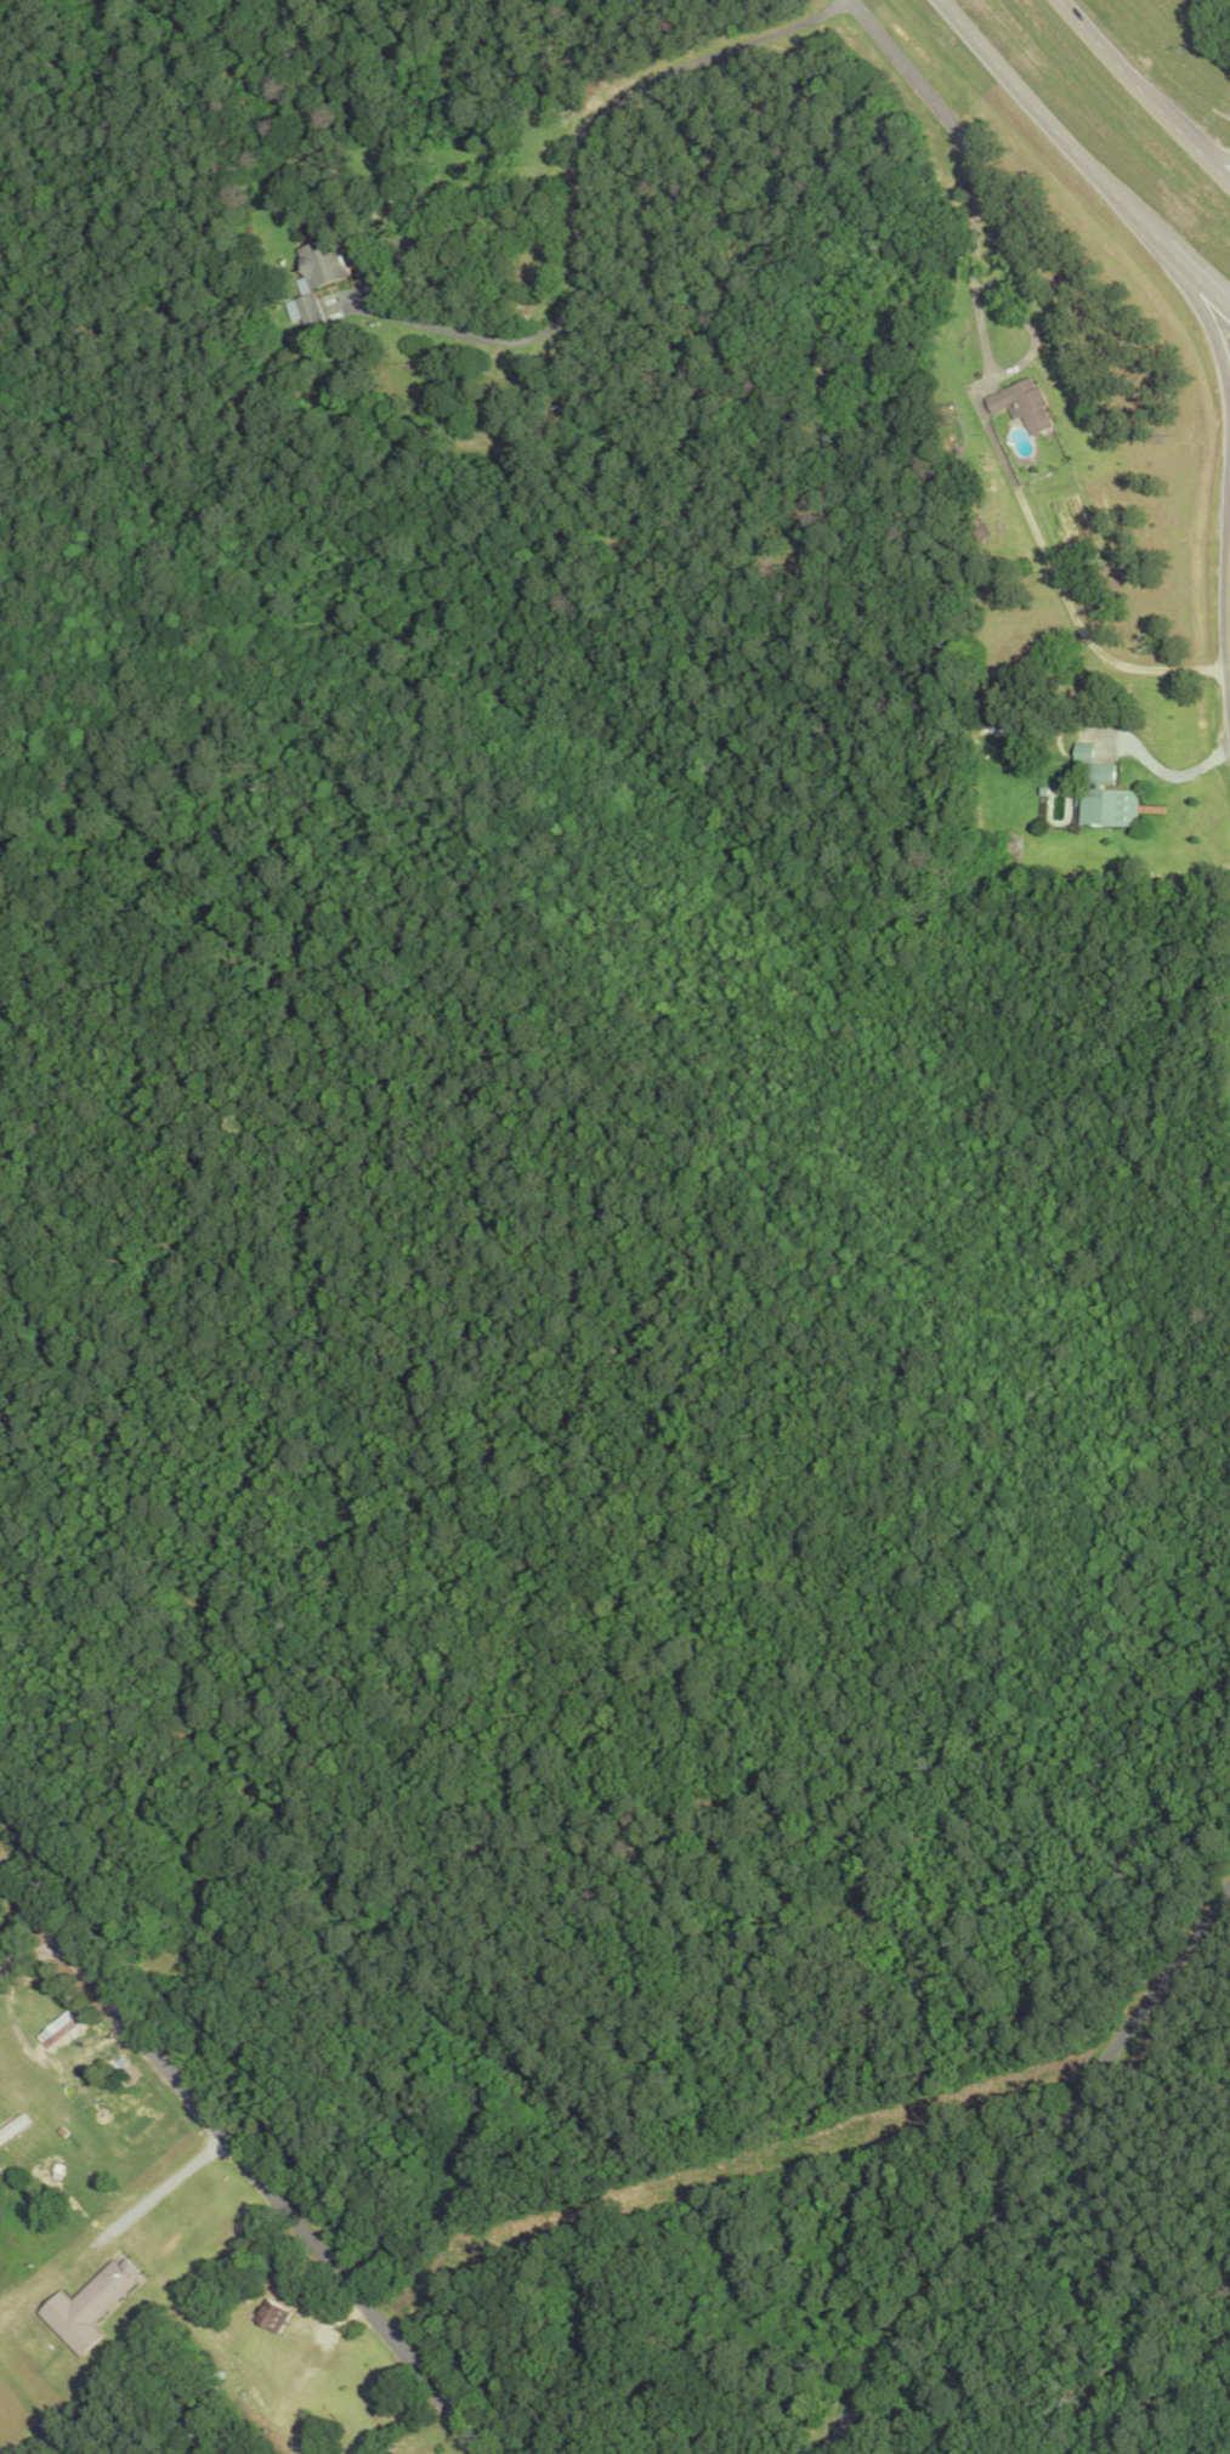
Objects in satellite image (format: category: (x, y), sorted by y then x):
road: (911, 75)
road: (1141, 93)
road: (1026, 100)
road: (589, 144)
road: (1218, 163)
road: (1151, 234)
building: (330, 266)
road: (1208, 291)
road: (977, 328)
road: (1212, 335)
building: (1020, 403)
road: (1225, 606)
road: (1078, 631)
building: (1105, 794)
road: (45, 1909)
building: (124, 2070)
road: (437, 2076)
road: (237, 2164)
road: (1025, 2169)
building: (92, 2307)
building: (274, 2317)

